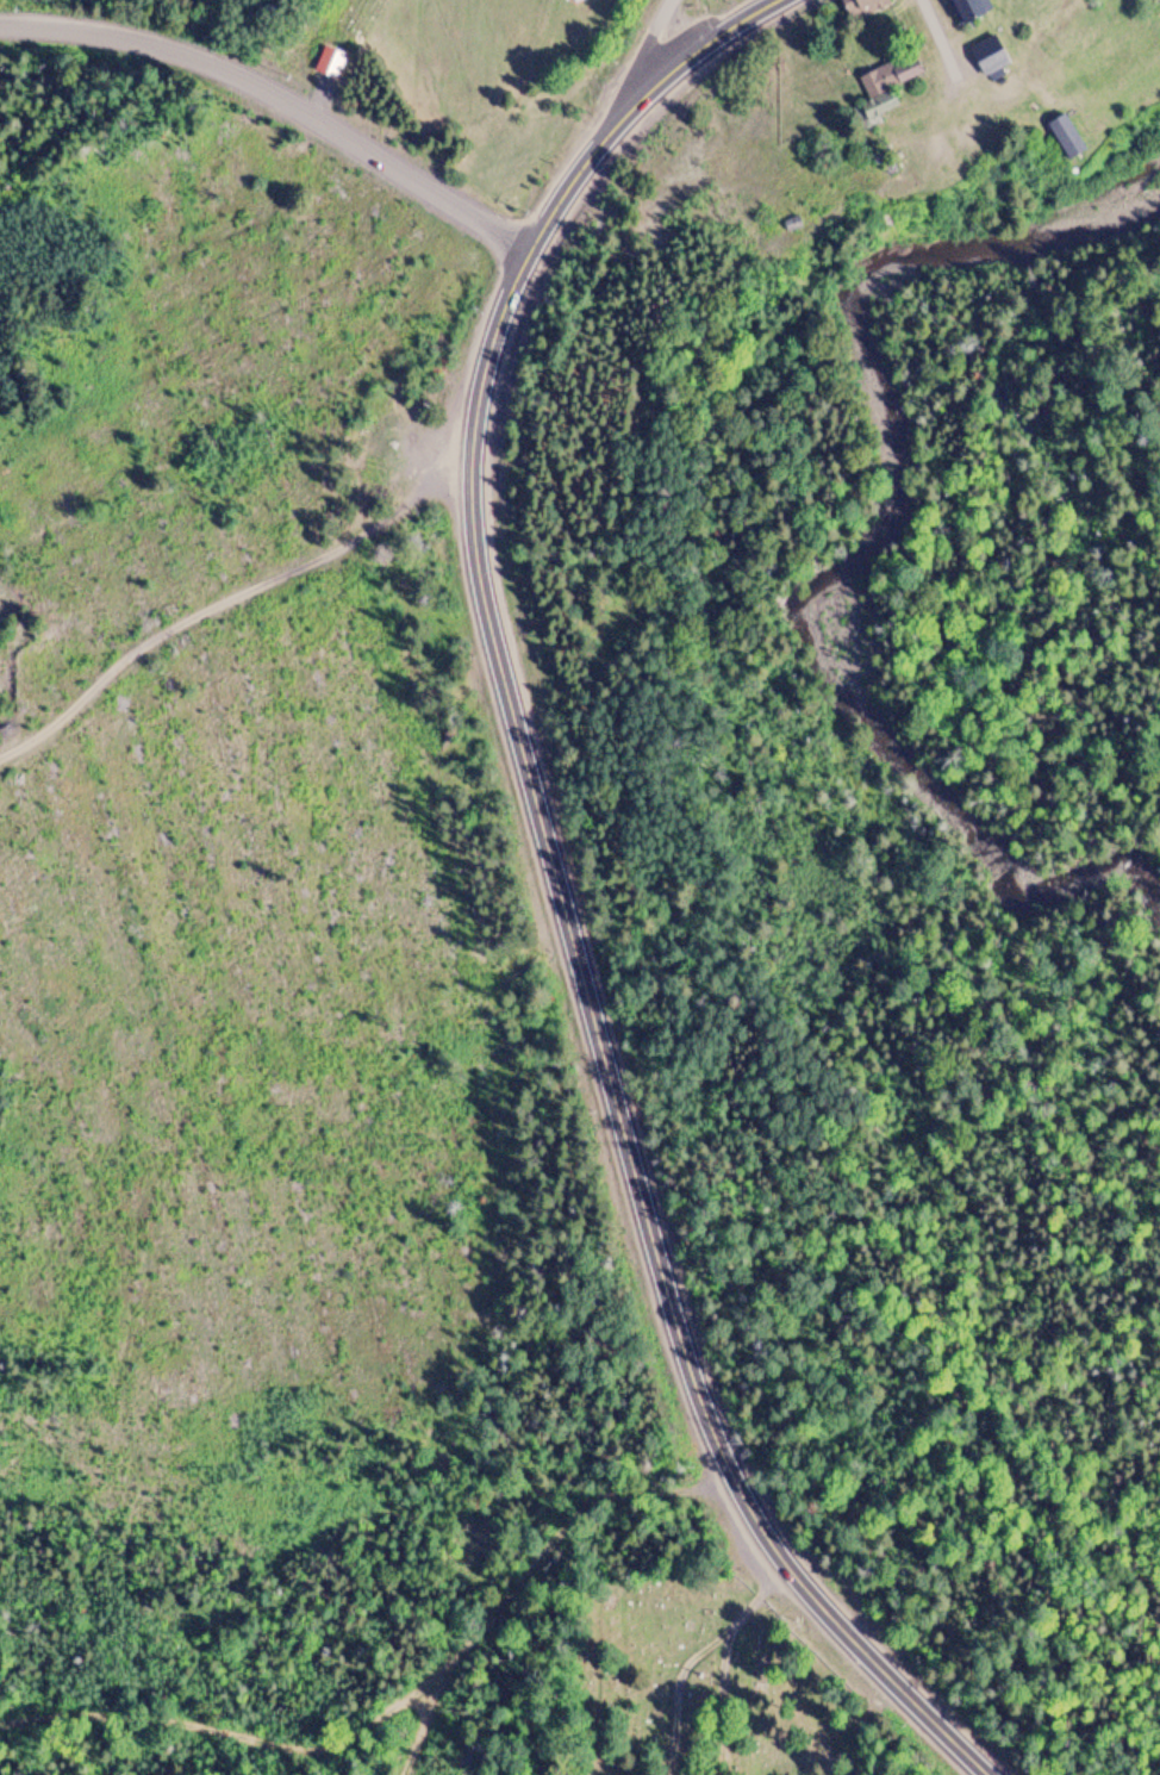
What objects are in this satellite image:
building: (575, 0)
building: (869, 5)
building: (968, 10)
road: (940, 33)
road: (648, 41)
building: (990, 57)
building: (892, 75)
building: (886, 106)
road: (275, 108)
building: (1066, 136)
road: (530, 250)
river: (894, 519)
road: (648, 1228)
road: (759, 1592)
park: (704, 1684)
road: (674, 1687)
road: (722, 1699)

